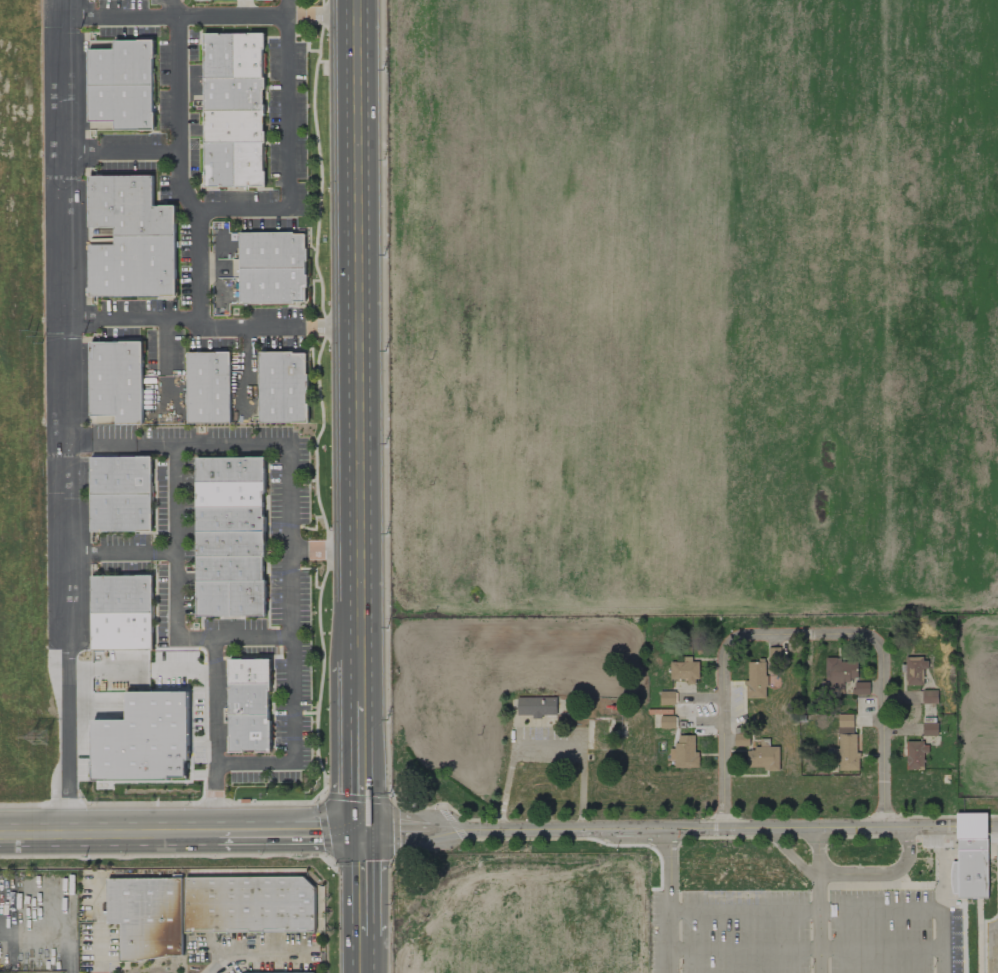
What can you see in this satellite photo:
building: (208, 0)
road: (174, 7)
road: (213, 15)
building: (247, 55)
building: (217, 56)
building: (120, 62)
building: (233, 94)
building: (120, 107)
road: (177, 115)
building: (233, 126)
road: (122, 151)
building: (219, 165)
building: (248, 165)
building: (127, 207)
road: (222, 208)
building: (271, 250)
building: (133, 267)
building: (272, 285)
road: (279, 328)
road: (360, 330)
road: (164, 346)
road: (248, 355)
building: (116, 381)
building: (208, 387)
building: (283, 387)
road: (68, 417)
road: (121, 443)
building: (230, 469)
building: (120, 475)
road: (336, 486)
road: (381, 486)
building: (229, 494)
building: (120, 512)
road: (175, 512)
building: (229, 519)
building: (229, 543)
road: (122, 551)
building: (229, 568)
building: (121, 594)
building: (213, 598)
building: (248, 598)
building: (121, 631)
road: (804, 633)
road: (254, 637)
building: (773, 654)
building: (685, 670)
building: (915, 670)
building: (249, 671)
road: (142, 672)
building: (843, 678)
building: (756, 679)
road: (363, 681)
road: (293, 694)
building: (929, 697)
building: (667, 698)
building: (248, 699)
building: (536, 707)
building: (667, 722)
building: (929, 729)
building: (249, 733)
road: (546, 735)
building: (143, 739)
power tower: (41, 744)
building: (846, 744)
building: (685, 752)
building: (916, 755)
building: (762, 758)
road: (363, 767)
road: (952, 823)
road: (973, 823)
road: (994, 823)
road: (655, 827)
road: (290, 832)
road: (108, 834)
building: (971, 856)
road: (845, 876)
road: (364, 884)
road: (818, 898)
road: (669, 900)
road: (914, 908)
building: (203, 909)
road: (744, 909)
parking lot: (802, 931)
parking lot: (988, 934)
road: (807, 949)
road: (256, 951)
road: (365, 954)
building: (303, 972)

